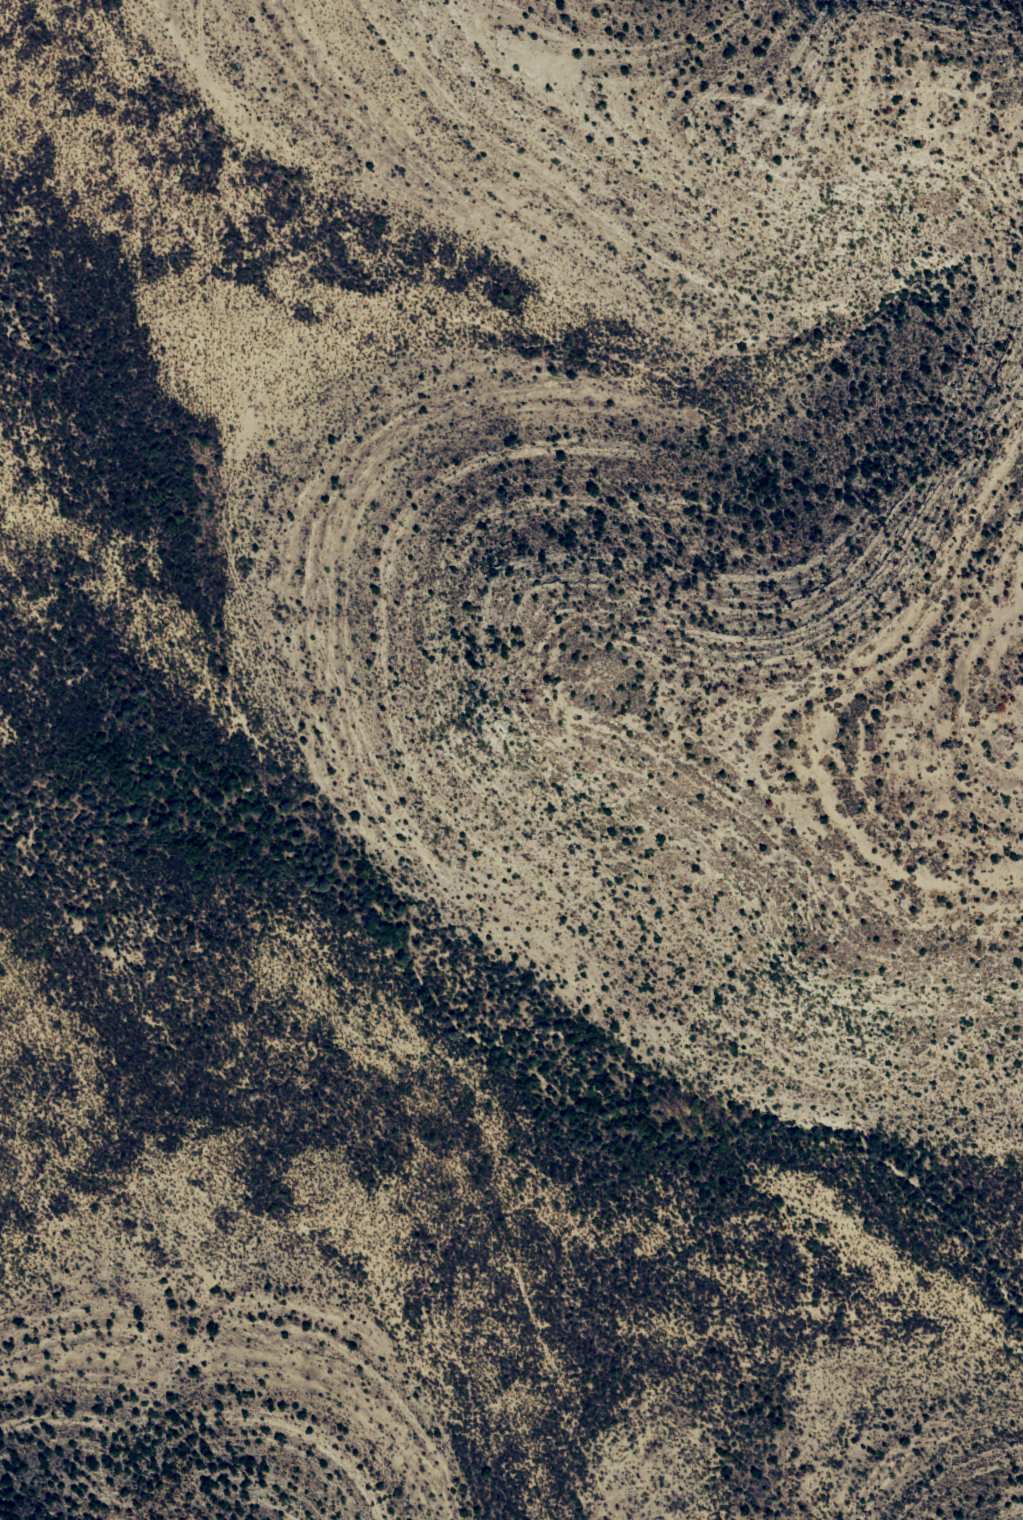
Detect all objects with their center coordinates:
road: (269, 789)

